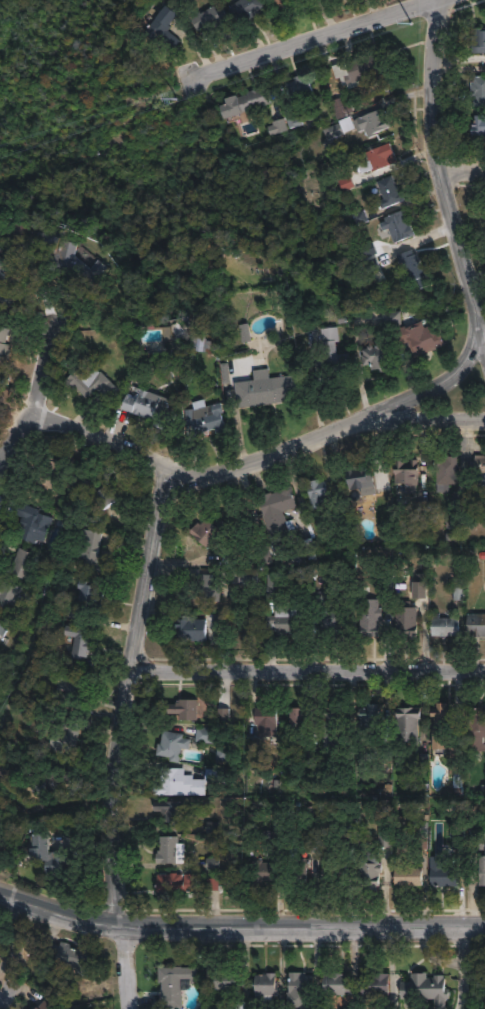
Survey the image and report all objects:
building: (285, 2)
building: (247, 8)
power tower: (415, 17)
building: (211, 18)
building: (165, 26)
road: (299, 38)
building: (477, 40)
building: (367, 68)
building: (301, 88)
building: (478, 90)
power tower: (176, 96)
building: (248, 101)
building: (340, 111)
building: (478, 126)
building: (373, 129)
building: (277, 135)
building: (338, 135)
building: (379, 165)
road: (464, 167)
road: (443, 170)
building: (390, 199)
building: (397, 233)
building: (70, 258)
building: (369, 267)
building: (413, 276)
building: (7, 280)
building: (337, 310)
building: (178, 329)
building: (246, 332)
building: (418, 345)
building: (5, 353)
building: (379, 356)
building: (330, 362)
road: (35, 379)
building: (265, 380)
building: (92, 382)
road: (422, 388)
building: (155, 407)
building: (204, 409)
road: (107, 433)
building: (479, 468)
building: (448, 470)
building: (408, 473)
building: (50, 474)
building: (363, 480)
building: (102, 492)
building: (321, 493)
building: (280, 511)
building: (385, 516)
building: (456, 521)
building: (345, 522)
building: (35, 523)
building: (210, 532)
building: (286, 545)
building: (93, 551)
building: (26, 566)
building: (251, 578)
building: (199, 584)
road: (145, 585)
building: (212, 587)
building: (388, 587)
building: (10, 594)
building: (91, 596)
building: (318, 597)
building: (284, 614)
building: (371, 618)
building: (407, 620)
building: (333, 622)
building: (476, 624)
building: (447, 625)
building: (3, 626)
building: (192, 629)
building: (82, 641)
road: (301, 677)
building: (6, 680)
building: (70, 686)
building: (186, 709)
building: (301, 720)
building: (334, 720)
building: (268, 721)
building: (371, 721)
building: (409, 725)
building: (443, 725)
building: (477, 729)
building: (69, 734)
building: (206, 735)
building: (329, 736)
building: (173, 745)
building: (458, 760)
building: (6, 767)
building: (186, 782)
building: (53, 783)
building: (173, 810)
building: (311, 827)
building: (211, 828)
building: (386, 831)
building: (351, 837)
building: (424, 837)
building: (460, 839)
building: (477, 843)
building: (171, 850)
building: (212, 863)
building: (59, 864)
building: (333, 867)
building: (264, 871)
building: (300, 871)
building: (482, 871)
building: (373, 872)
building: (445, 873)
building: (410, 876)
building: (175, 883)
road: (240, 921)
road: (13, 932)
road: (465, 951)
building: (70, 955)
building: (230, 982)
building: (338, 983)
building: (302, 984)
building: (375, 986)
building: (182, 987)
building: (416, 988)
building: (266, 989)
road: (460, 994)
building: (38, 1007)

